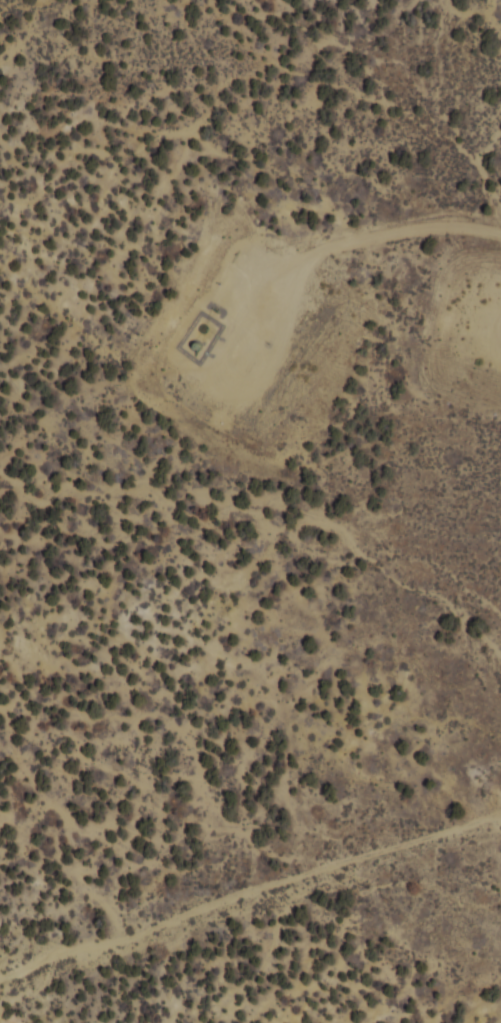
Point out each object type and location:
road: (248, 893)

